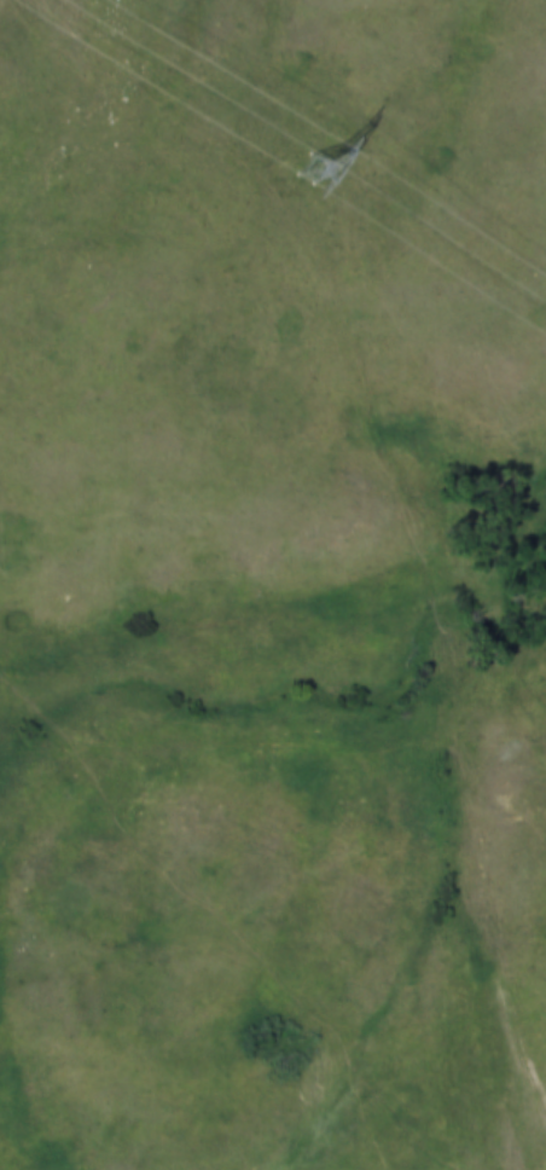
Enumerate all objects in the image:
power tower: (306, 164)

